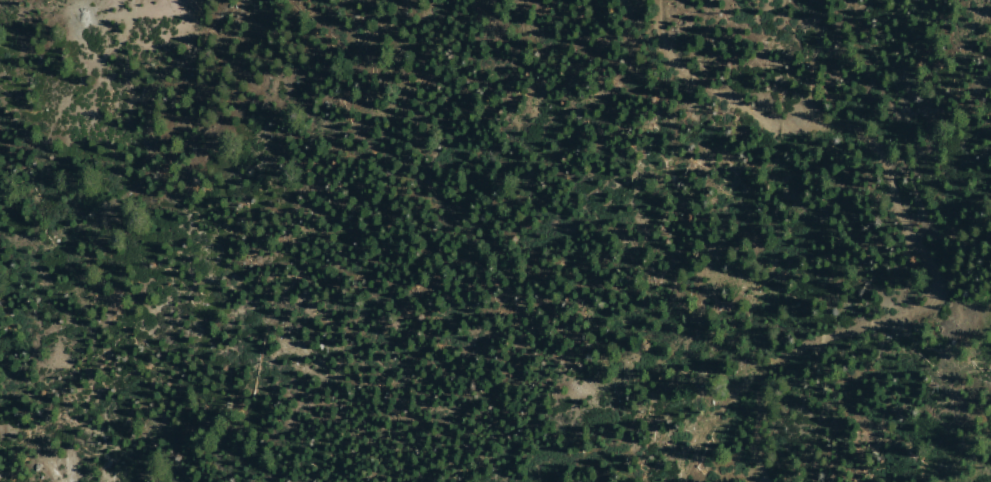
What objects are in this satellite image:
road: (874, 198)

